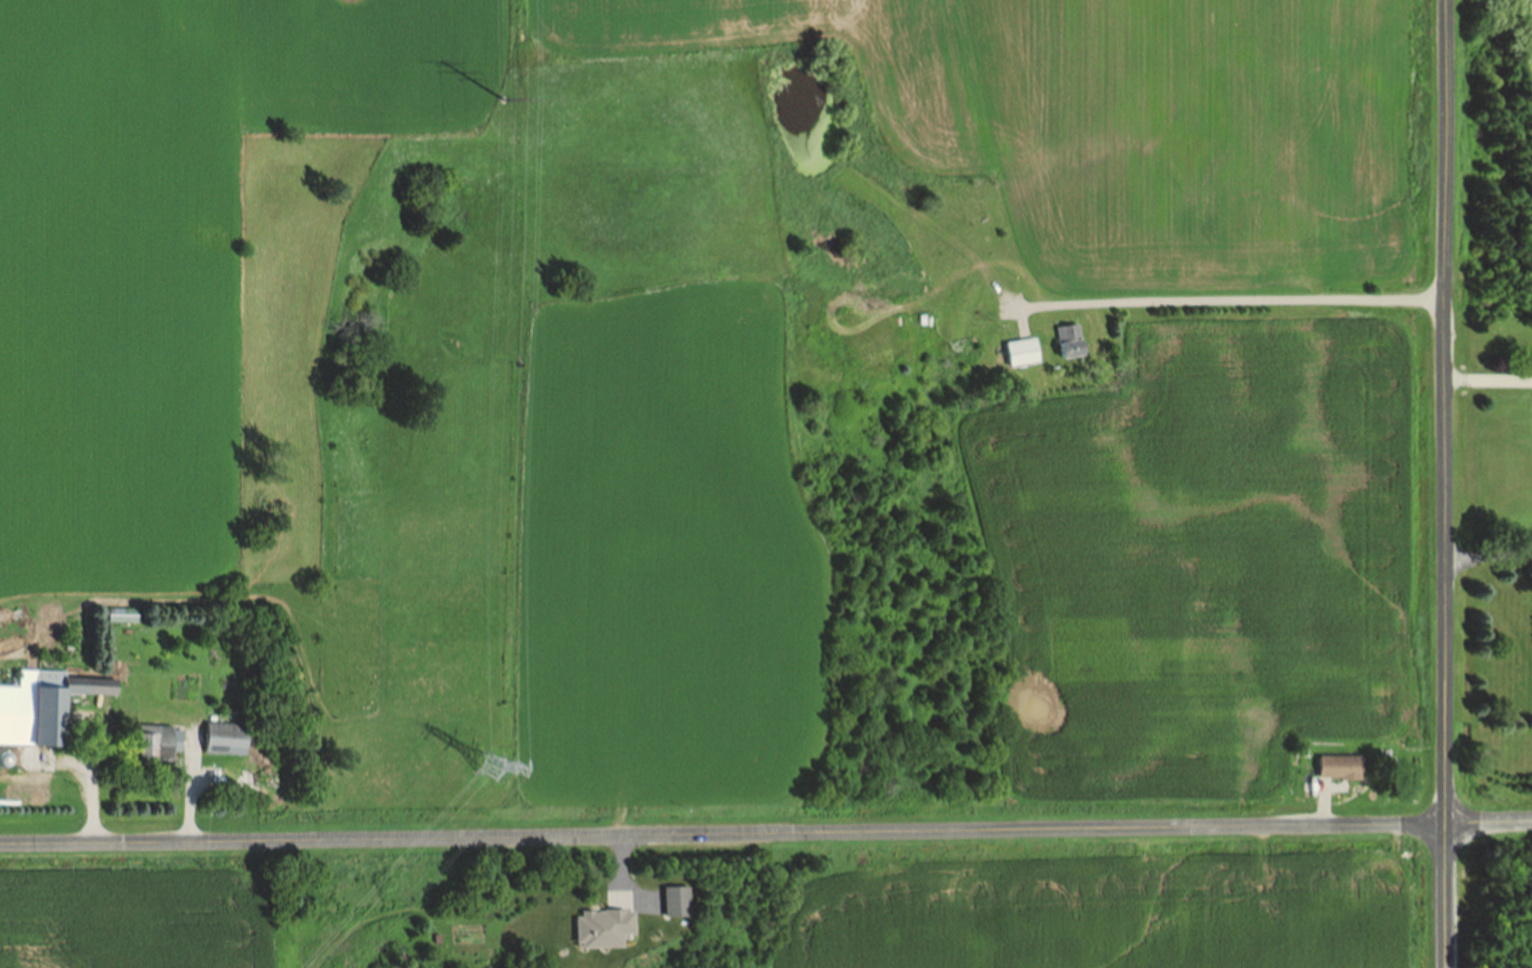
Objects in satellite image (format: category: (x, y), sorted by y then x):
power tower: (498, 99)
road: (1231, 301)
building: (1065, 342)
building: (1017, 353)
road: (1487, 380)
road: (1442, 483)
road: (1487, 557)
building: (45, 709)
building: (228, 741)
building: (161, 747)
power tower: (487, 767)
building: (1333, 768)
road: (191, 800)
road: (92, 803)
road: (1321, 813)
road: (766, 834)
road: (622, 862)
building: (672, 902)
building: (654, 904)
building: (599, 929)

